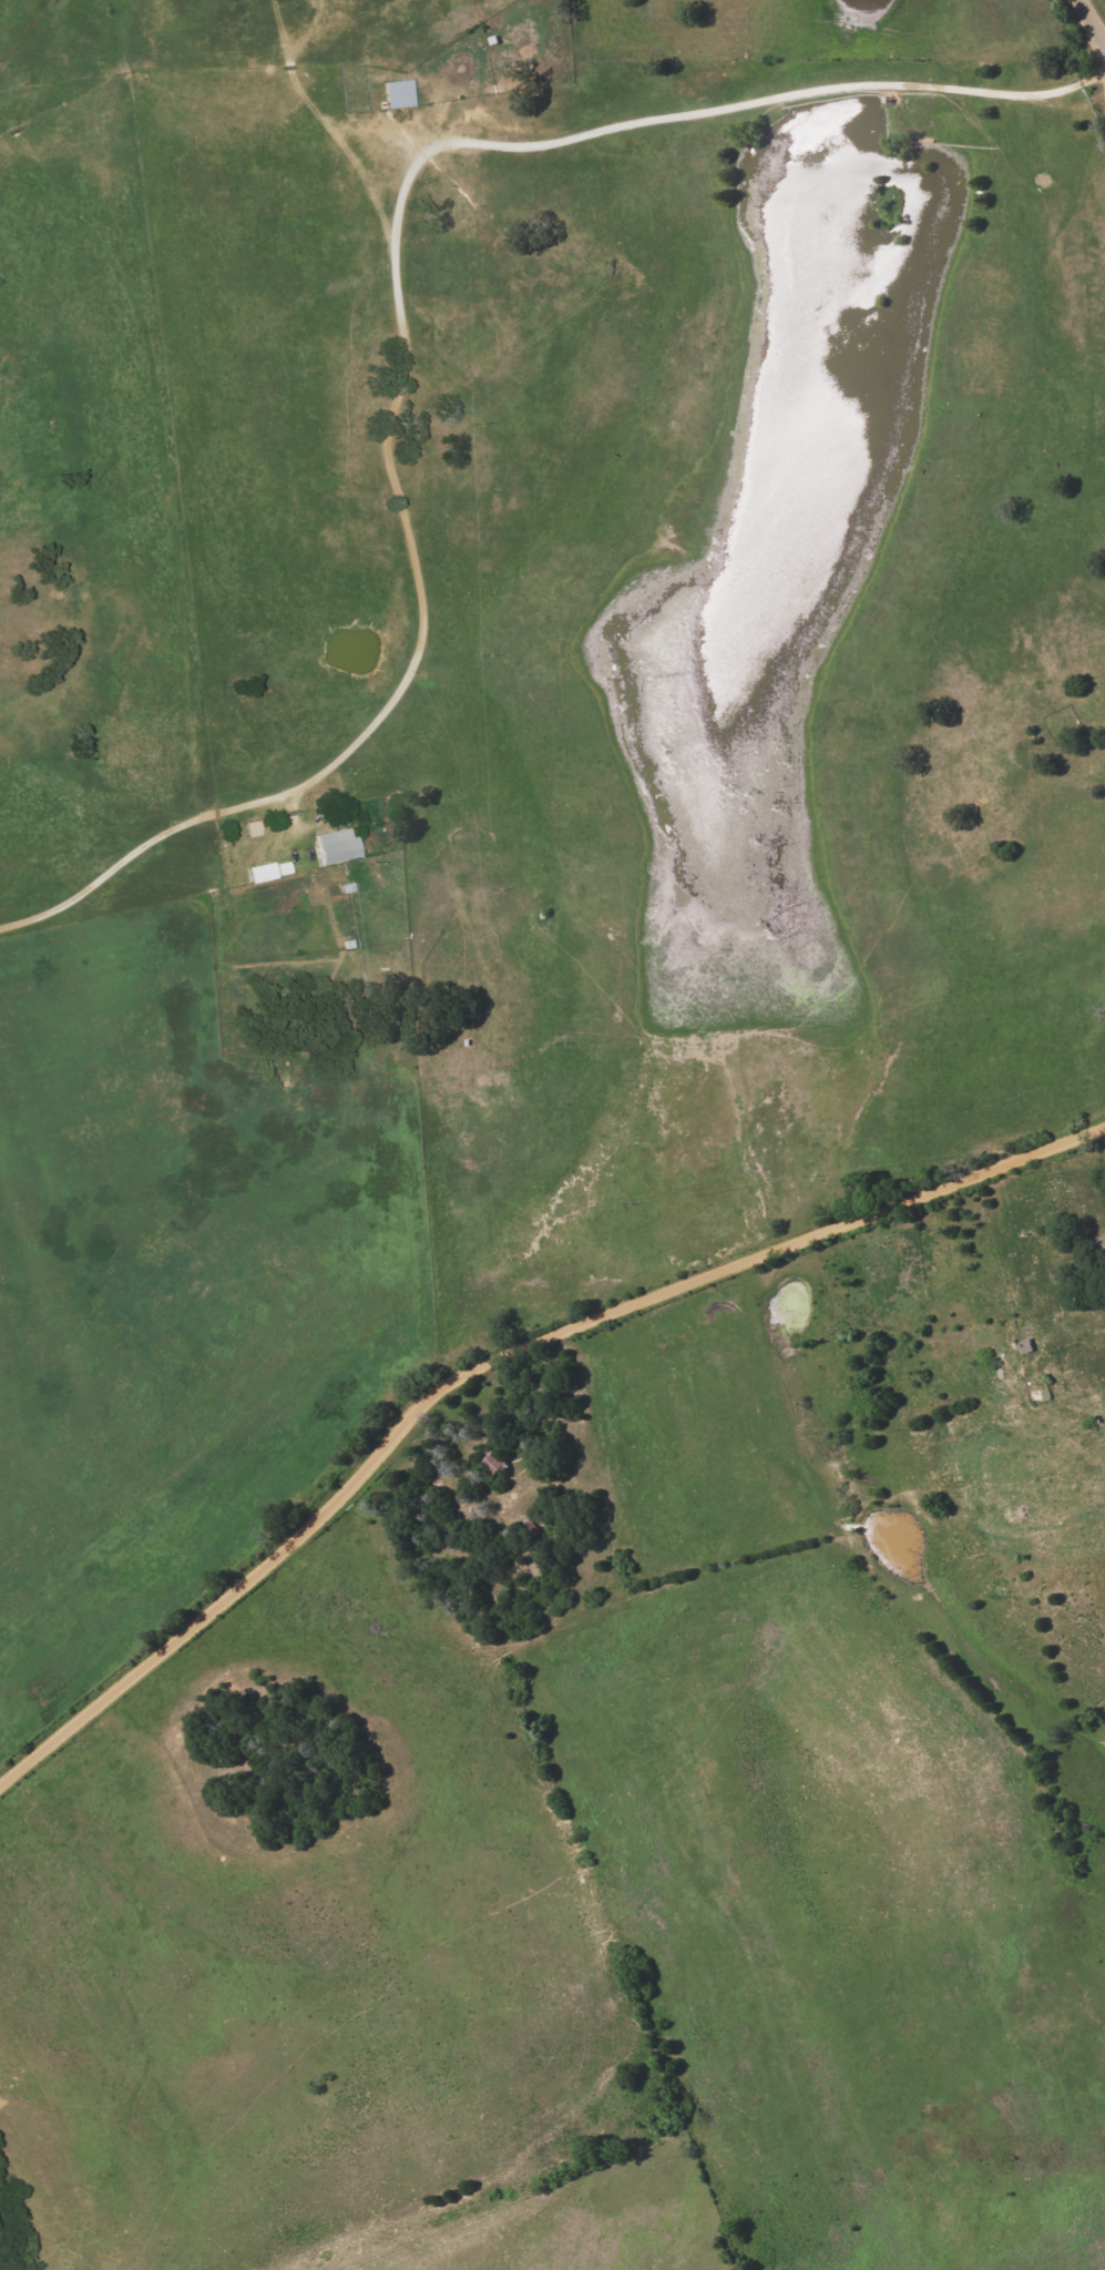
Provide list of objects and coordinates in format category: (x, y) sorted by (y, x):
road: (1093, 20)
road: (398, 320)
park: (1063, 723)
building: (332, 845)
road: (490, 1356)

